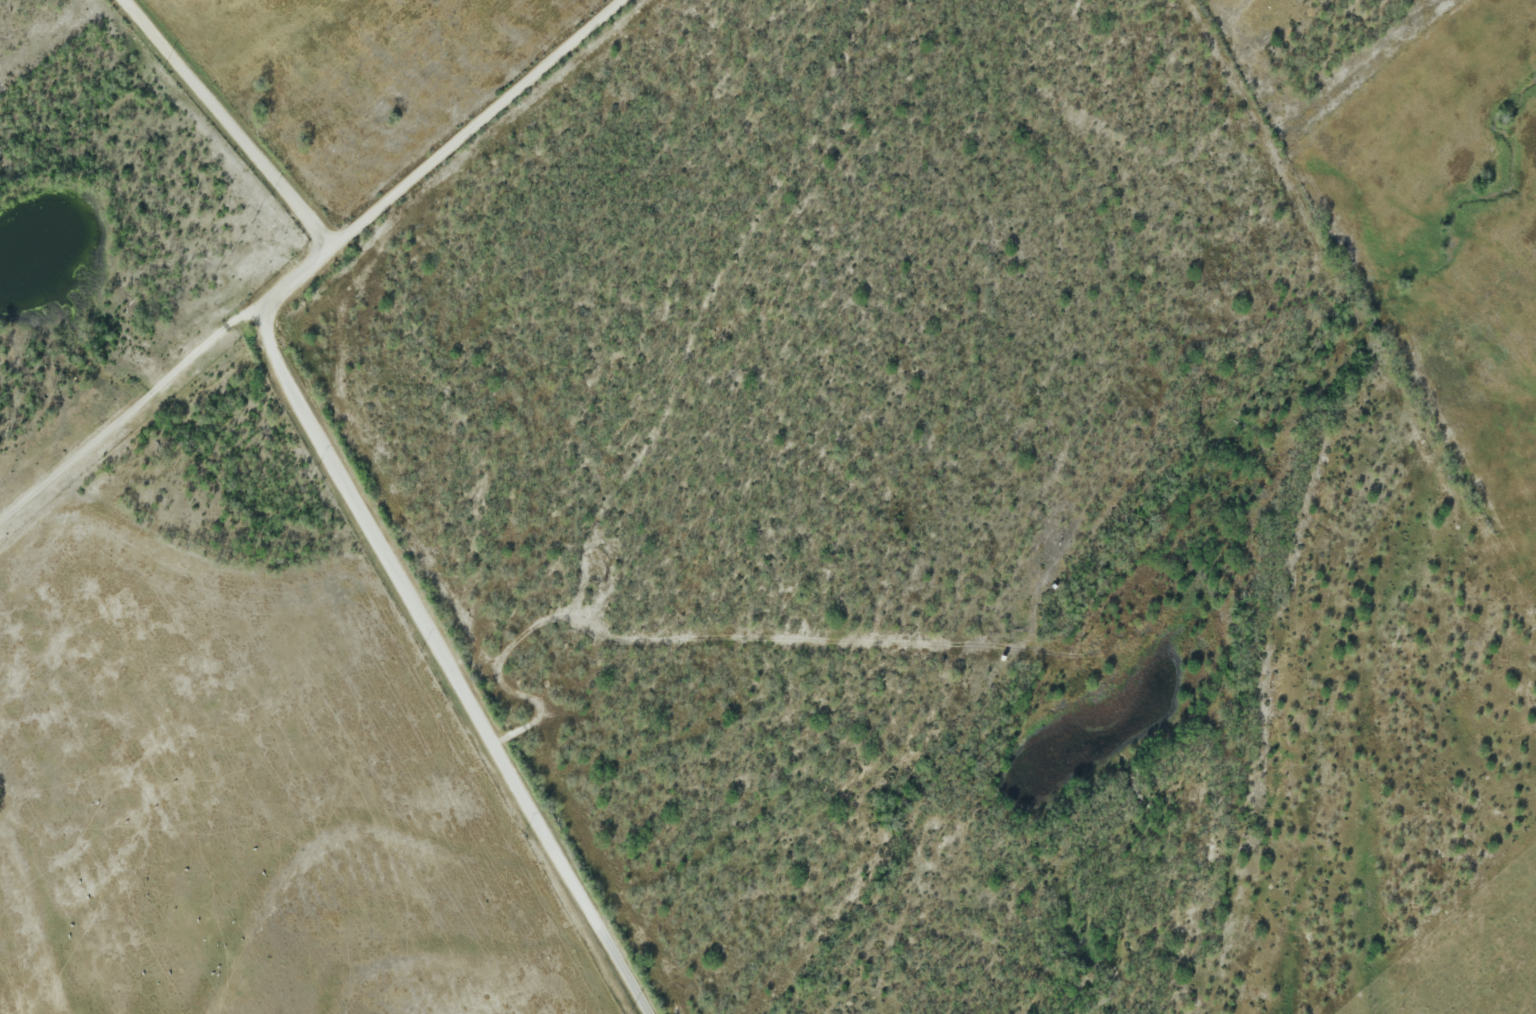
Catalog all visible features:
road: (228, 123)
road: (130, 410)
road: (333, 459)

